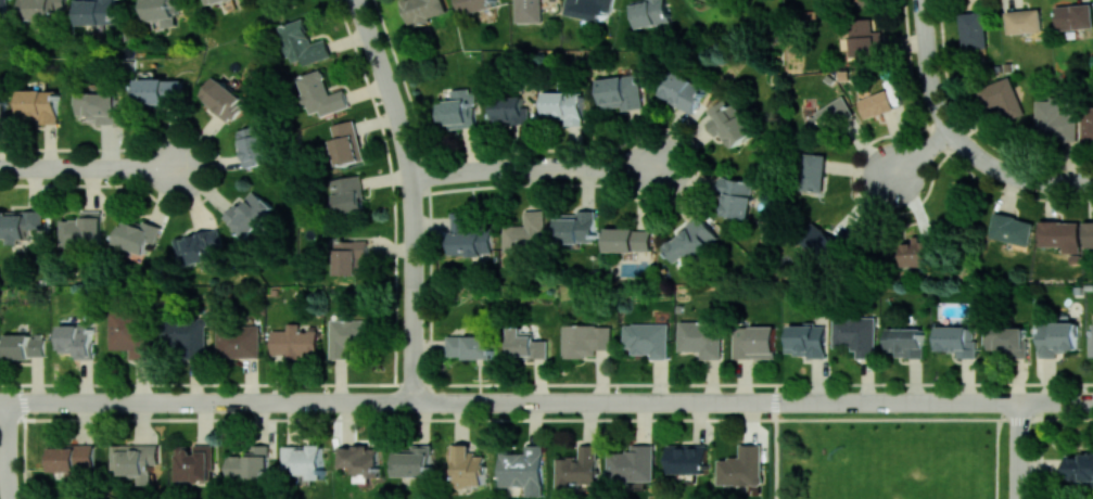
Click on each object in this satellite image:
building: (211, 1)
building: (474, 4)
building: (42, 9)
building: (423, 9)
building: (589, 9)
building: (161, 11)
building: (528, 11)
building: (3, 12)
building: (97, 12)
building: (650, 12)
building: (1075, 16)
building: (1024, 21)
building: (973, 29)
building: (864, 38)
building: (303, 42)
road: (372, 49)
road: (927, 67)
building: (160, 90)
building: (682, 90)
building: (621, 91)
building: (320, 93)
building: (1001, 97)
building: (221, 98)
building: (877, 103)
building: (39, 105)
building: (99, 106)
building: (564, 106)
building: (2, 108)
building: (510, 108)
building: (458, 110)
building: (830, 116)
building: (1054, 121)
building: (728, 123)
building: (1086, 124)
building: (346, 142)
building: (253, 145)
road: (920, 153)
road: (90, 166)
road: (534, 166)
building: (813, 170)
road: (1014, 175)
building: (348, 194)
building: (736, 196)
building: (247, 213)
building: (21, 226)
building: (576, 228)
building: (1011, 229)
building: (82, 230)
building: (526, 232)
building: (1058, 233)
building: (1088, 233)
building: (137, 234)
building: (470, 234)
building: (628, 239)
building: (691, 240)
building: (817, 241)
building: (198, 246)
road: (414, 248)
building: (915, 253)
building: (351, 256)
building: (131, 333)
building: (856, 334)
building: (347, 335)
building: (186, 336)
building: (700, 337)
building: (1057, 337)
building: (646, 338)
building: (78, 340)
building: (585, 340)
building: (805, 340)
building: (957, 340)
building: (238, 341)
building: (293, 341)
building: (753, 341)
building: (1007, 341)
building: (905, 342)
building: (525, 344)
building: (24, 345)
building: (1091, 345)
building: (470, 346)
road: (546, 383)
road: (774, 400)
road: (901, 400)
road: (1056, 400)
road: (24, 401)
road: (206, 401)
road: (592, 401)
road: (776, 401)
road: (1067, 418)
road: (498, 419)
road: (1019, 419)
park: (894, 449)
road: (1019, 449)
road: (9, 450)
building: (361, 458)
building: (687, 458)
road: (24, 459)
building: (74, 459)
road: (774, 459)
road: (996, 459)
road: (1040, 459)
building: (138, 460)
building: (304, 460)
building: (414, 460)
building: (194, 462)
building: (250, 463)
building: (633, 463)
building: (469, 465)
building: (742, 466)
building: (580, 468)
building: (1080, 468)
building: (524, 469)

